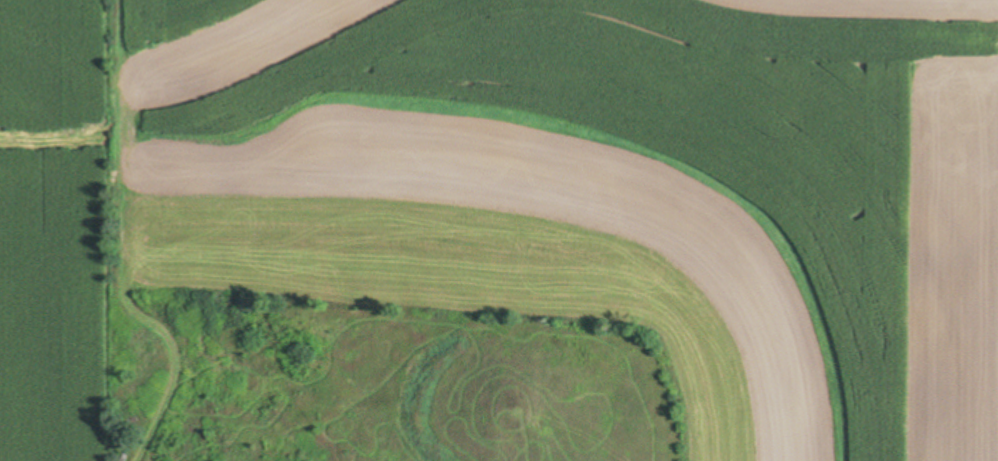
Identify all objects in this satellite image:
crop: (525, 195)

